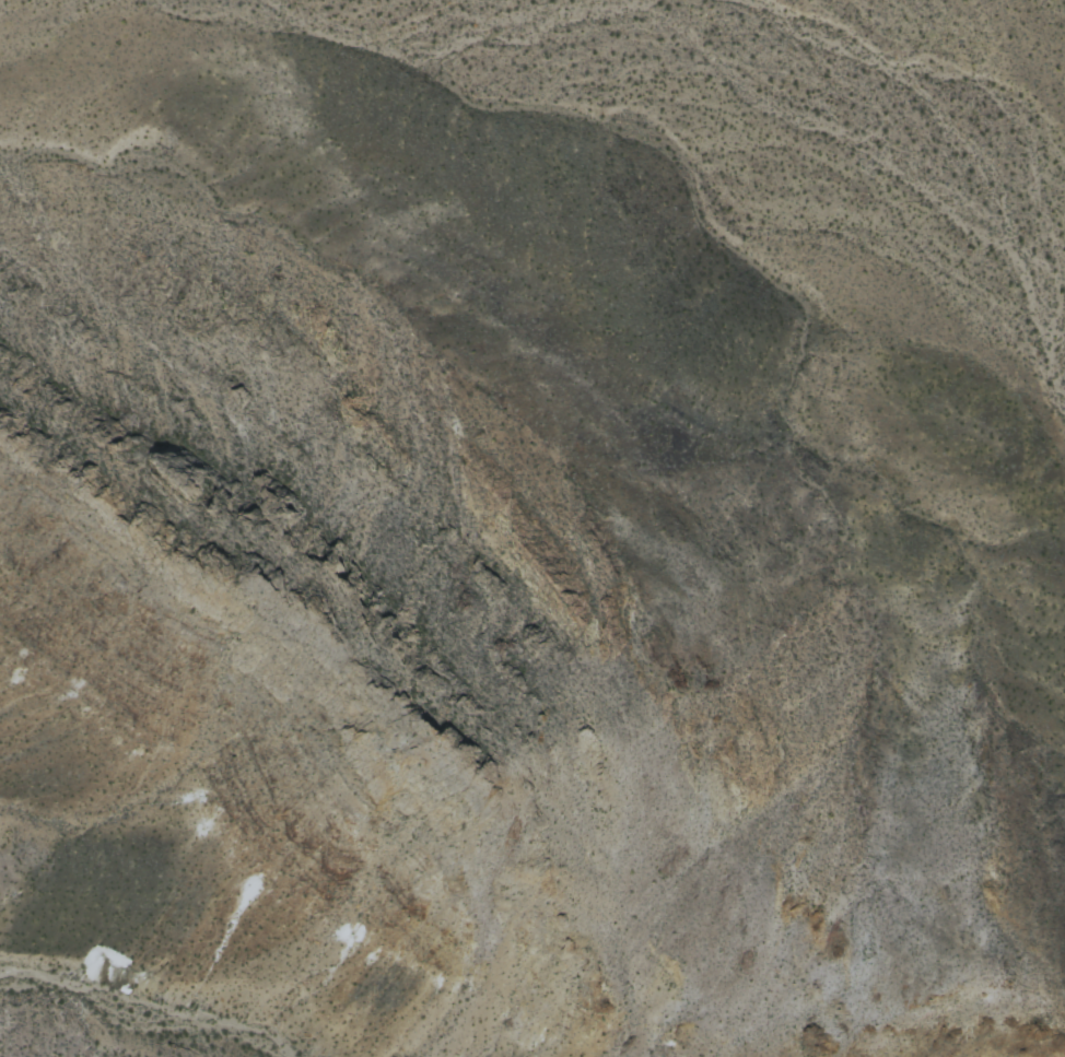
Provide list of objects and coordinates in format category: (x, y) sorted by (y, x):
road: (16, 998)

